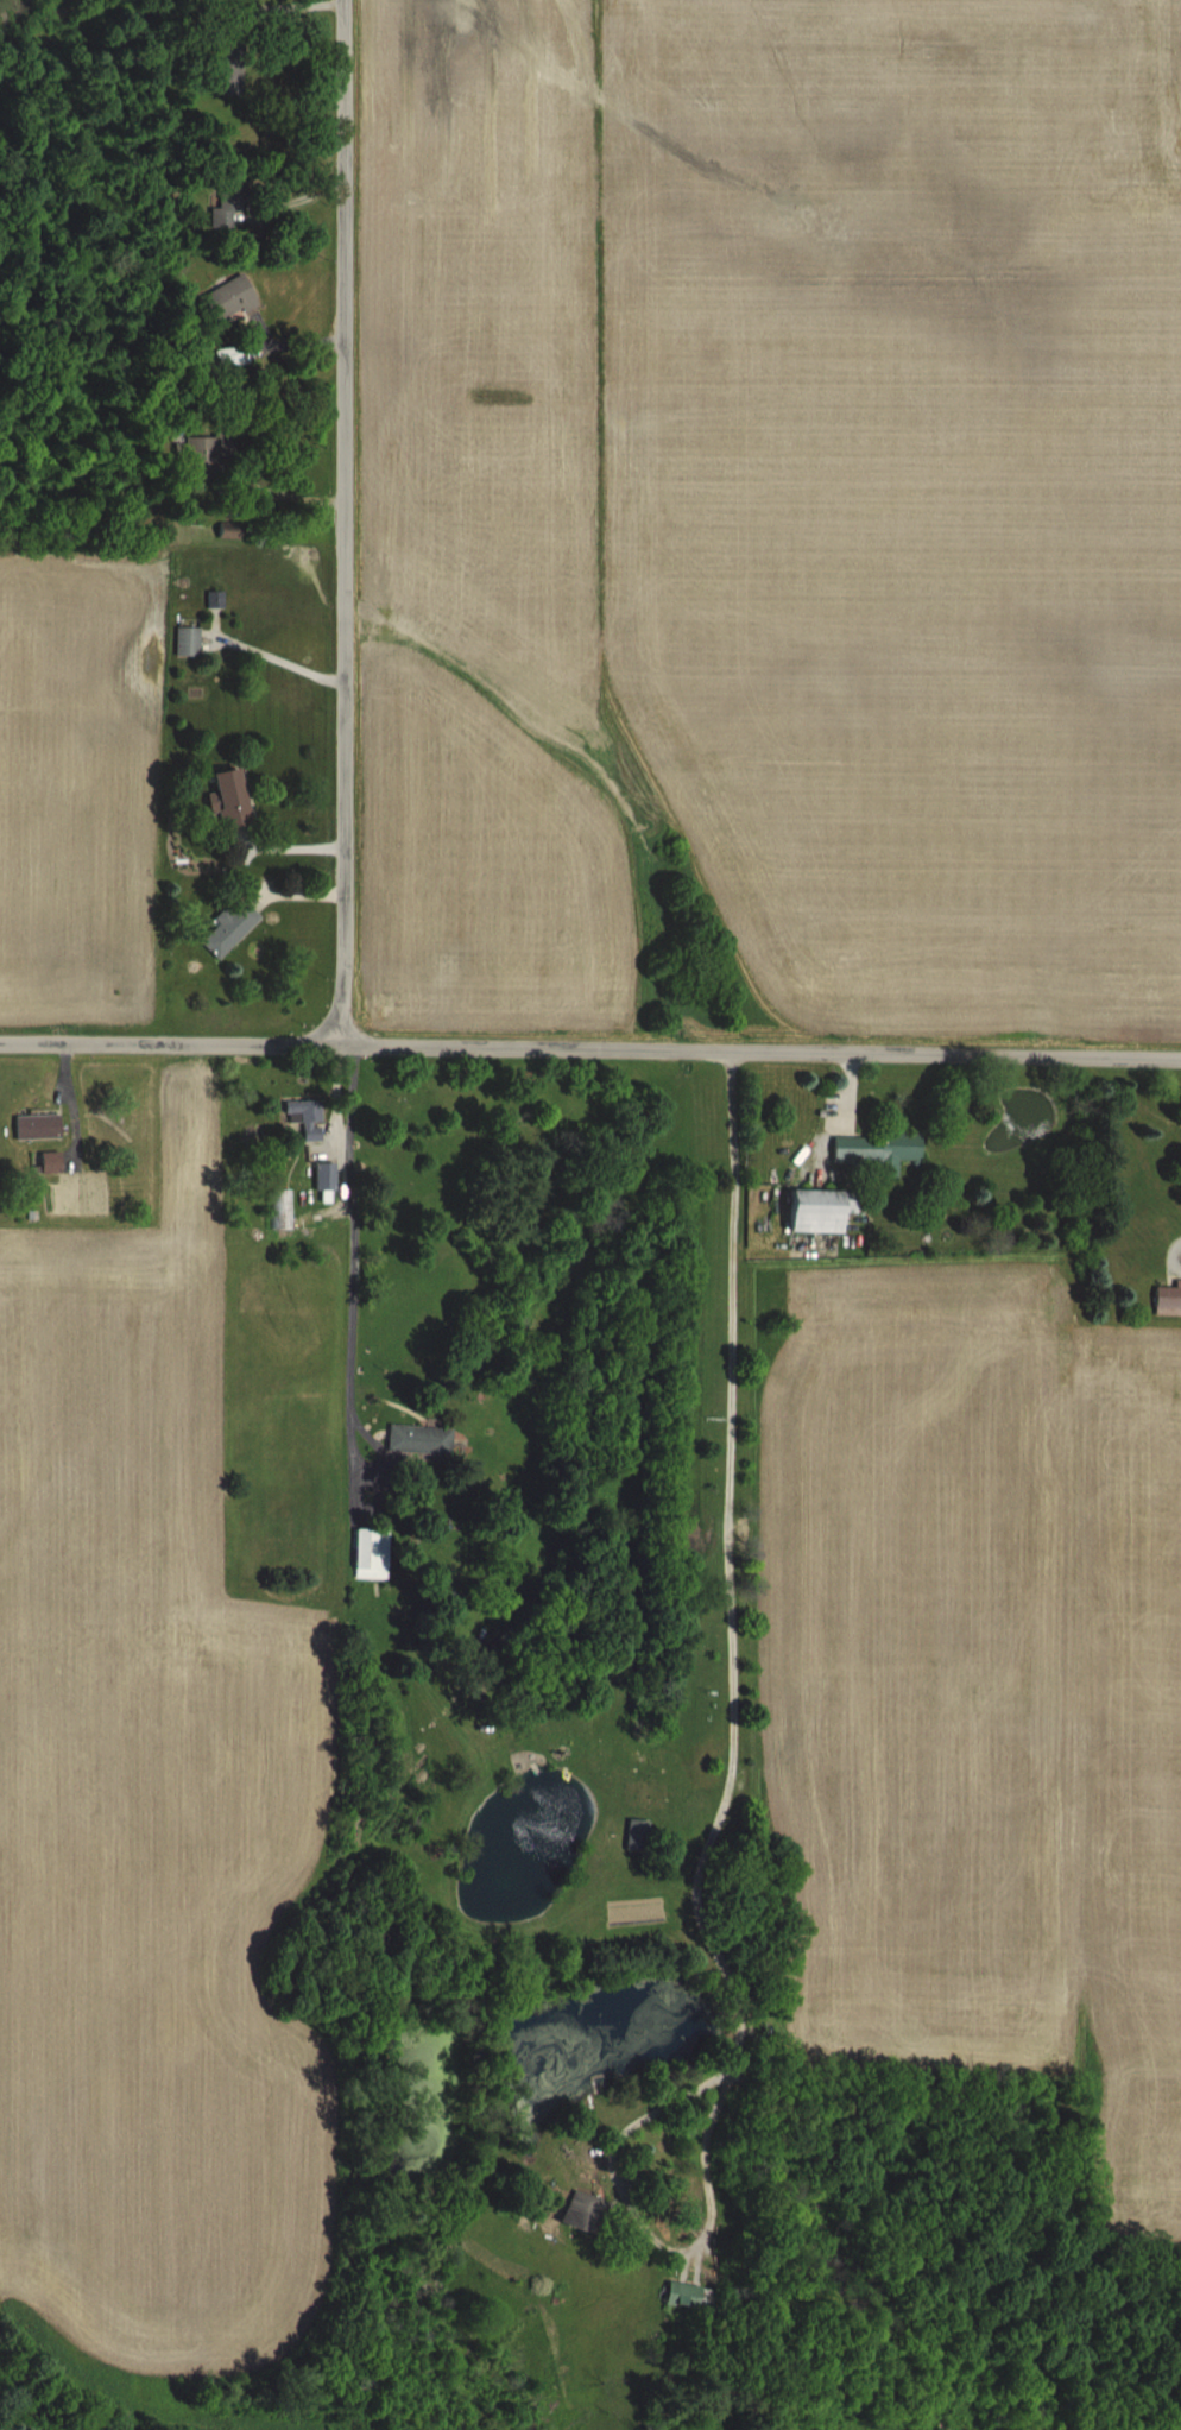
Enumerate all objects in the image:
building: (221, 74)
building: (214, 208)
building: (217, 303)
building: (192, 456)
crop: (74, 522)
road: (341, 523)
crop: (773, 532)
building: (183, 640)
building: (223, 797)
building: (223, 927)
road: (590, 1048)
road: (334, 1091)
building: (301, 1116)
building: (33, 1126)
building: (872, 1149)
building: (46, 1162)
building: (321, 1180)
building: (277, 1208)
building: (813, 1208)
road: (350, 1249)
building: (1166, 1299)
building: (413, 1439)
building: (364, 1553)
road: (724, 1576)
crop: (158, 1824)
crop: (966, 1866)
building: (576, 2211)
road: (657, 2252)
building: (677, 2296)

